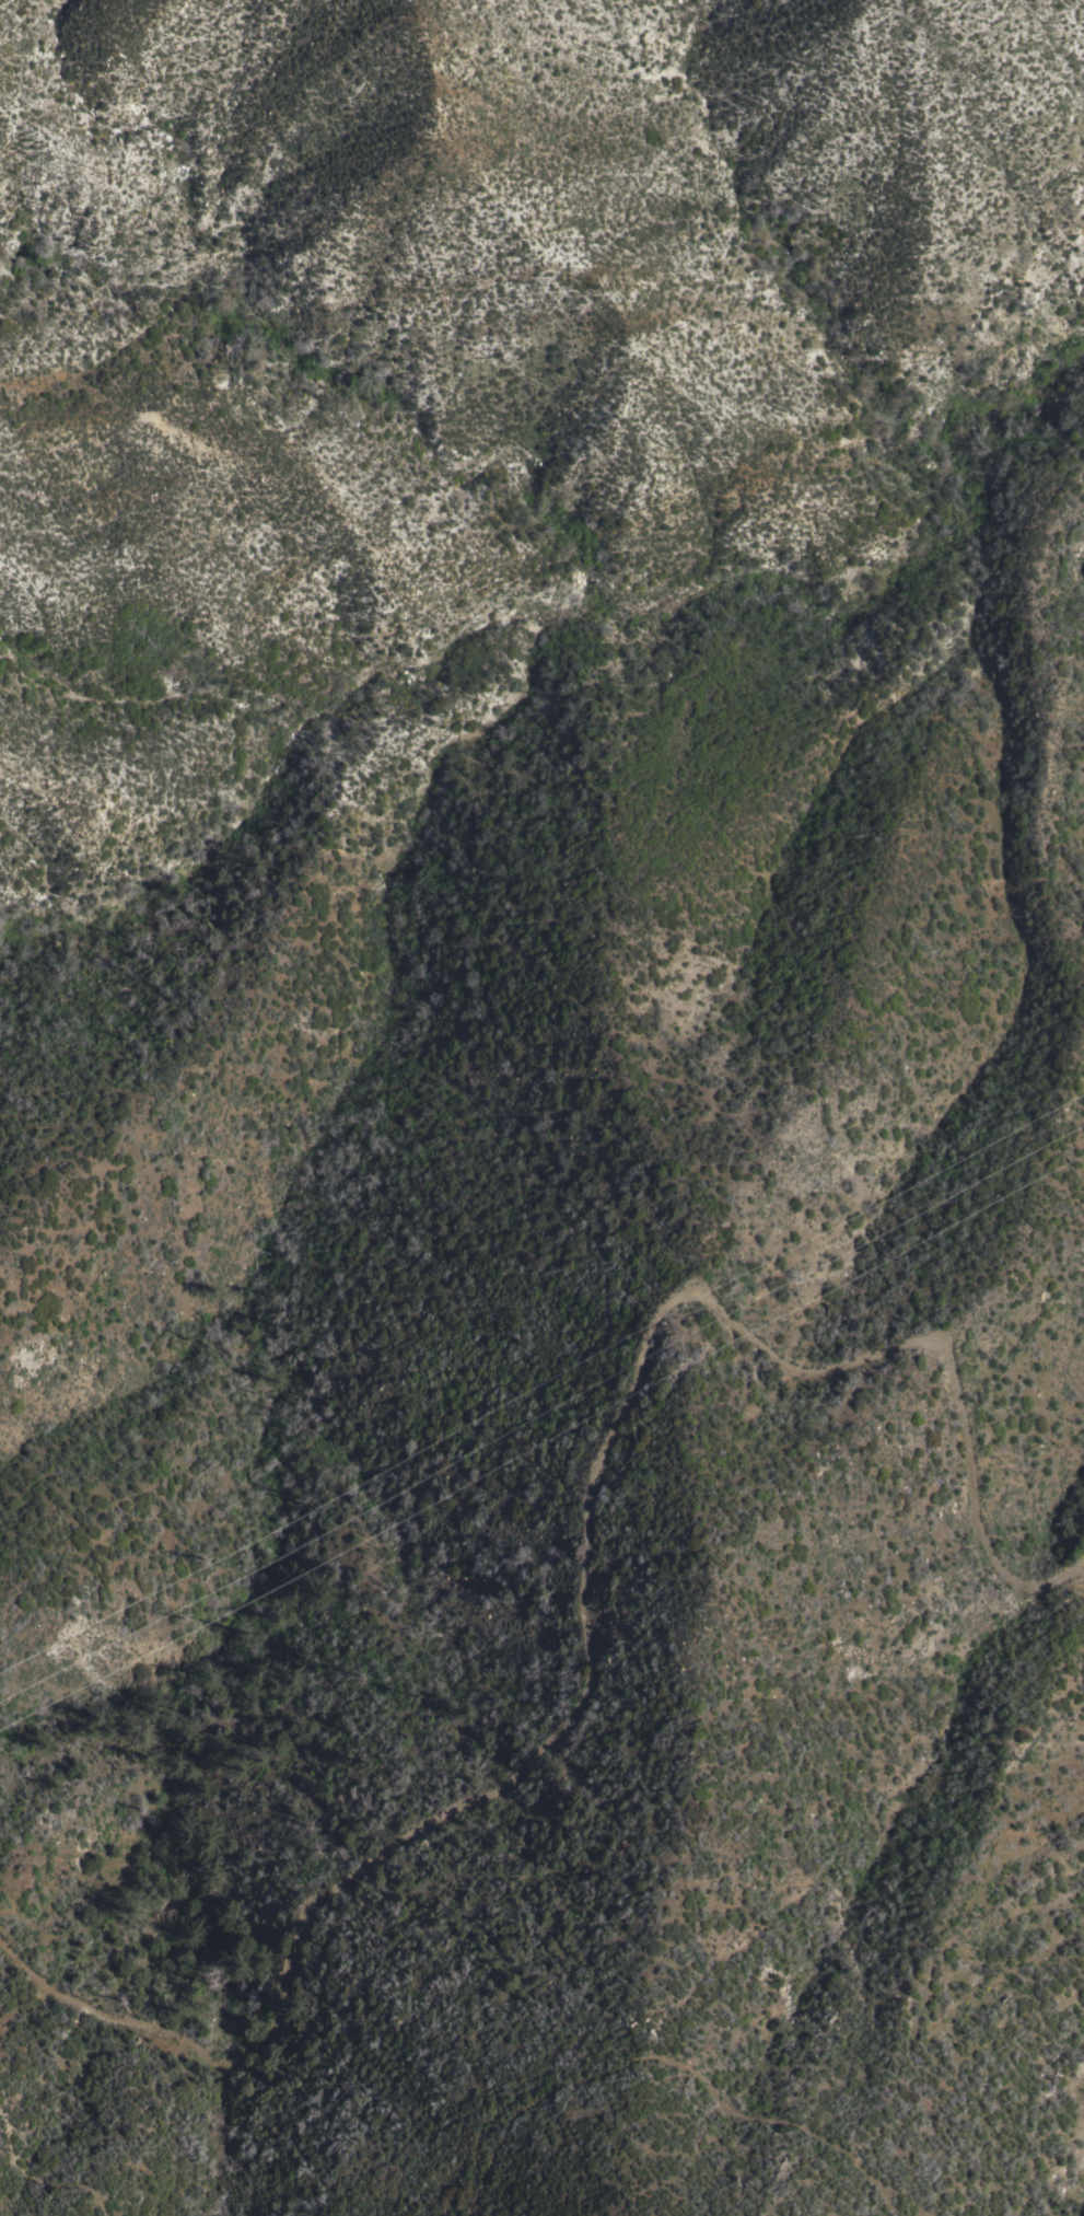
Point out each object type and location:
power tower: (671, 1338)
road: (592, 1576)
road: (672, 2060)
road: (35, 2177)

